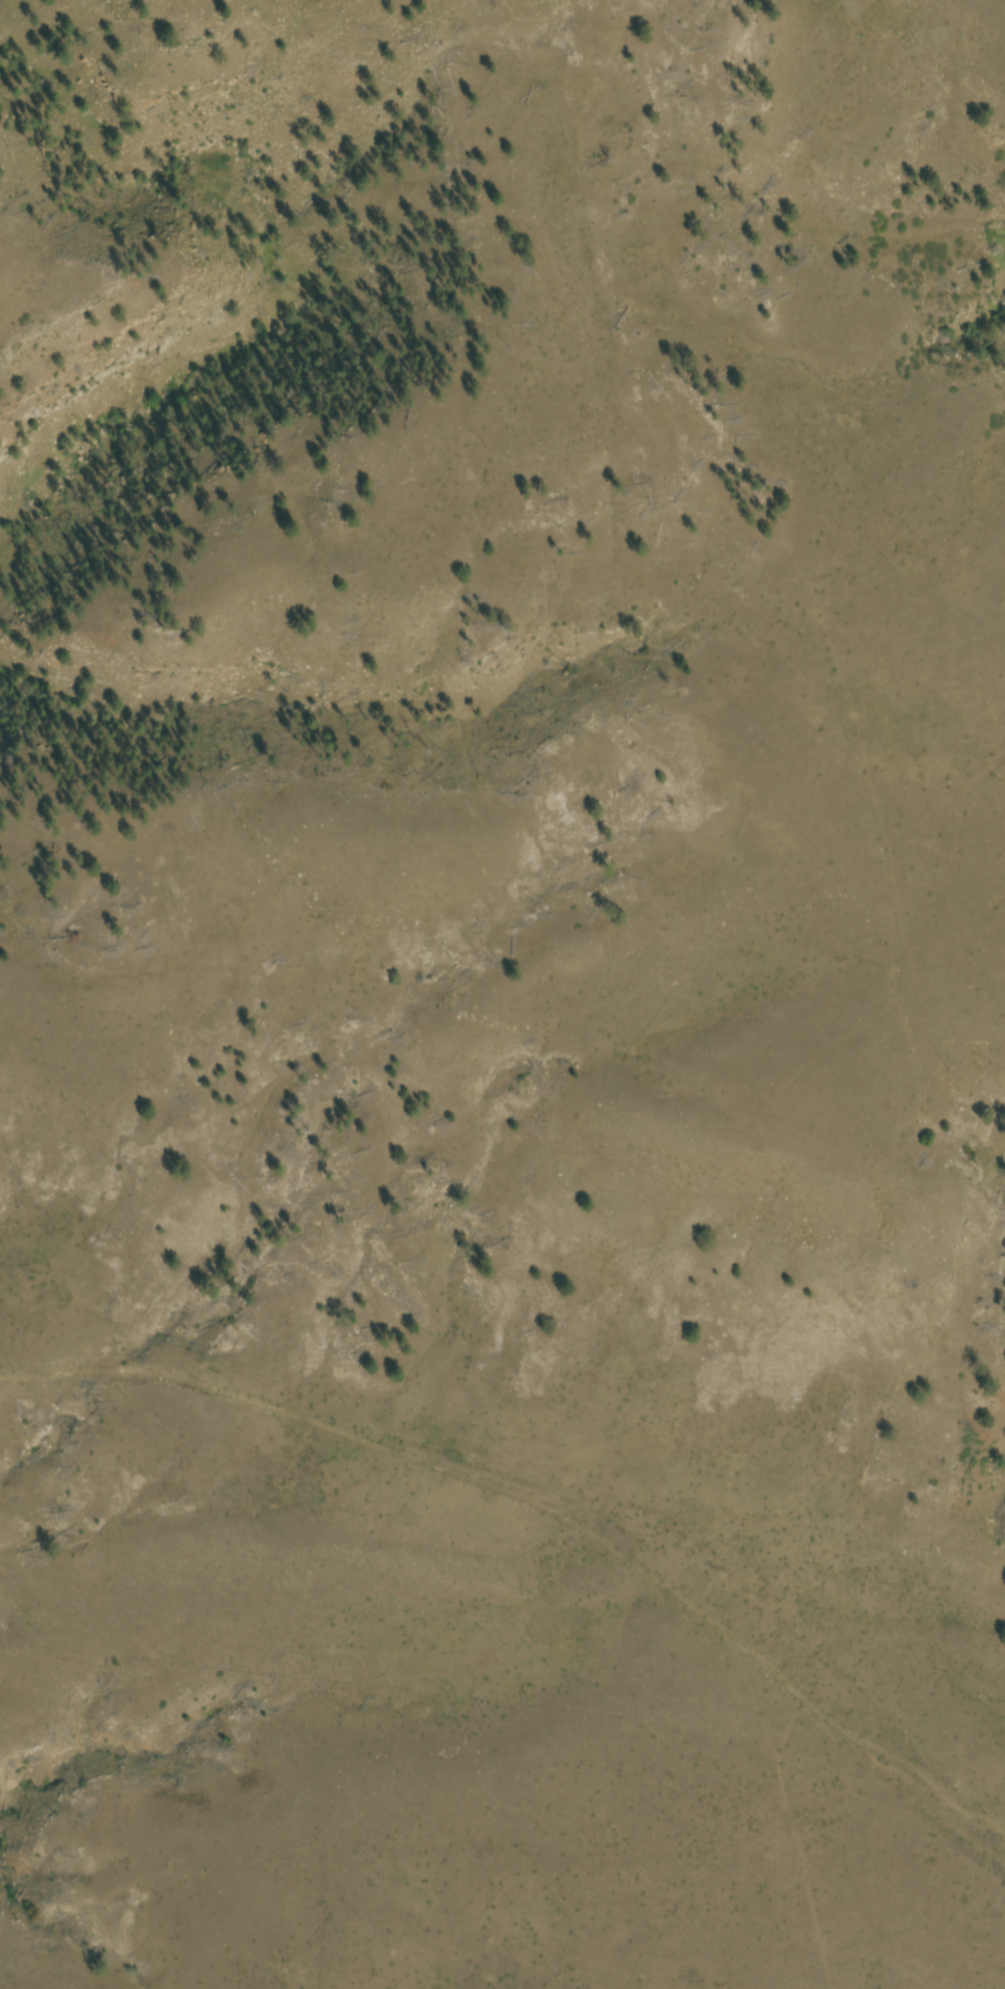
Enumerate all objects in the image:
park: (1003, 1901)

